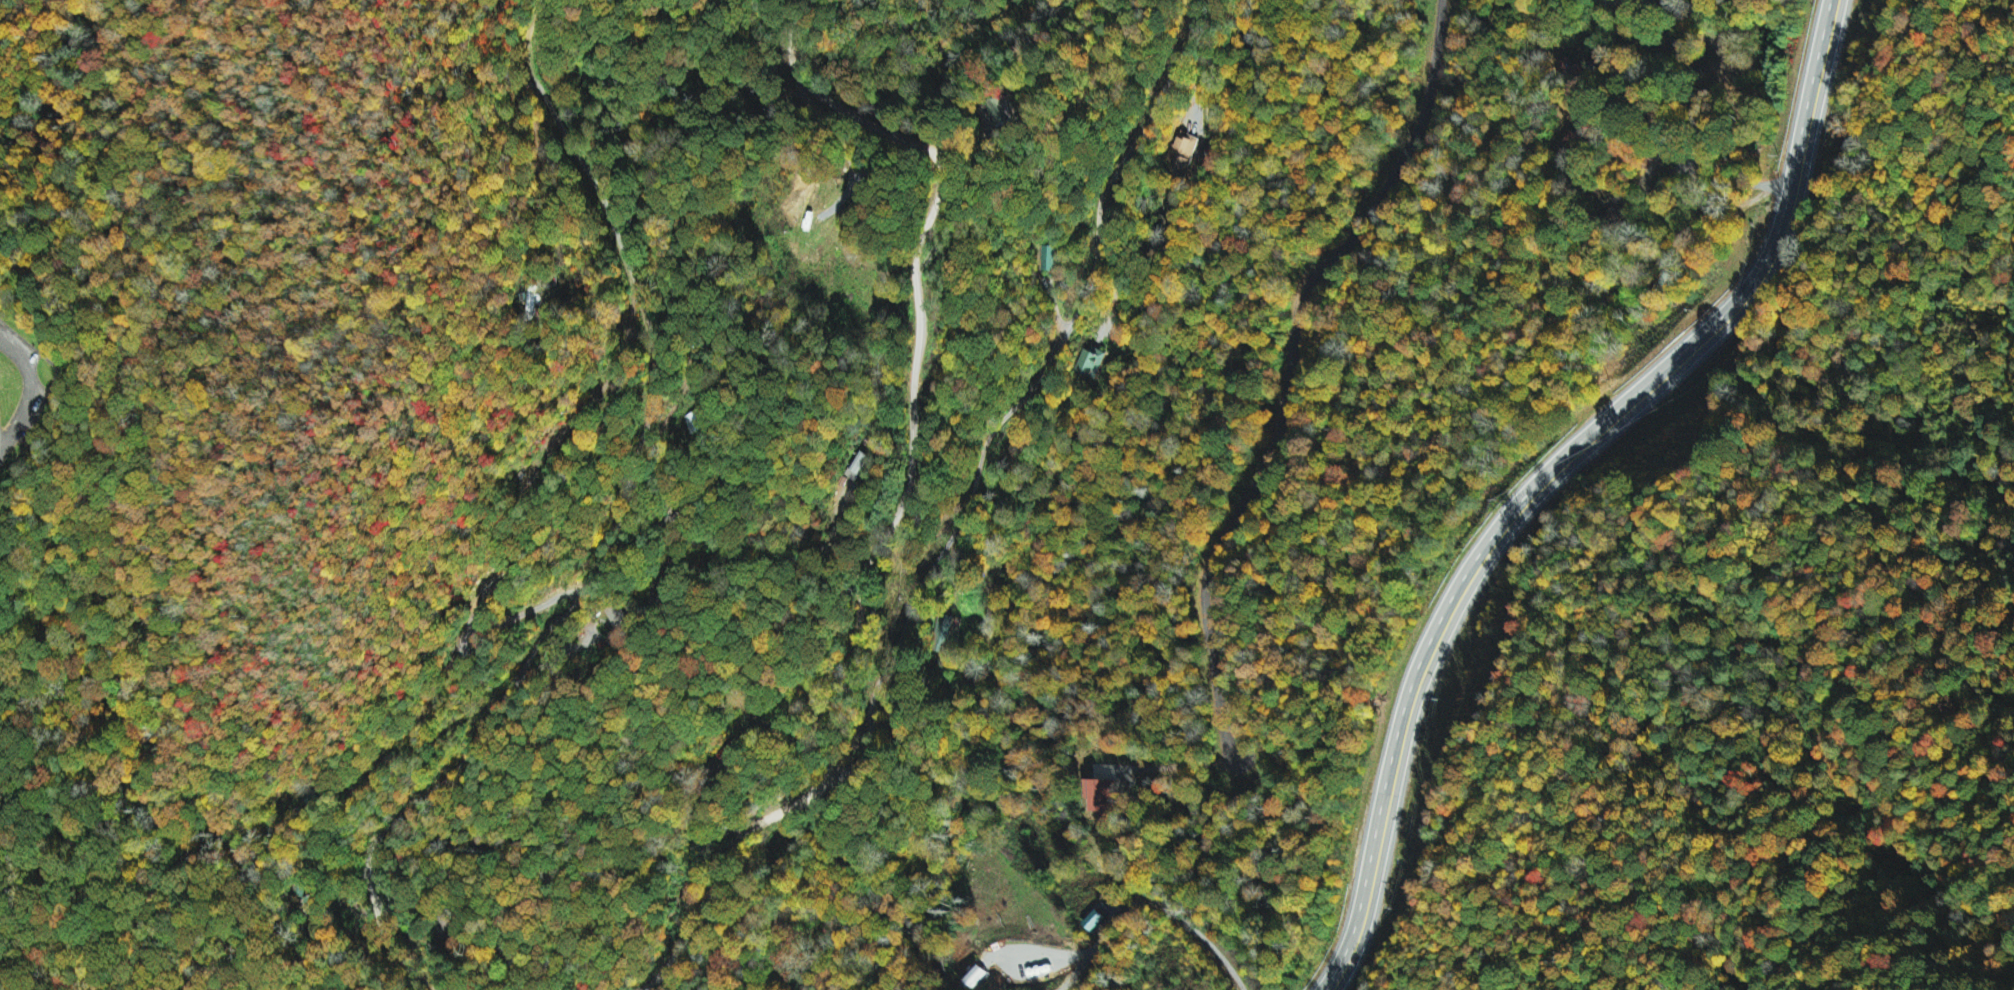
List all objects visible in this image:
road: (1607, 112)
building: (1185, 152)
building: (1053, 260)
parking lot: (16, 347)
building: (1093, 363)
road: (1290, 368)
road: (28, 390)
road: (1023, 398)
parking lot: (24, 410)
building: (859, 466)
road: (1560, 474)
road: (906, 494)
road: (615, 530)
building: (1098, 790)
building: (1093, 921)

